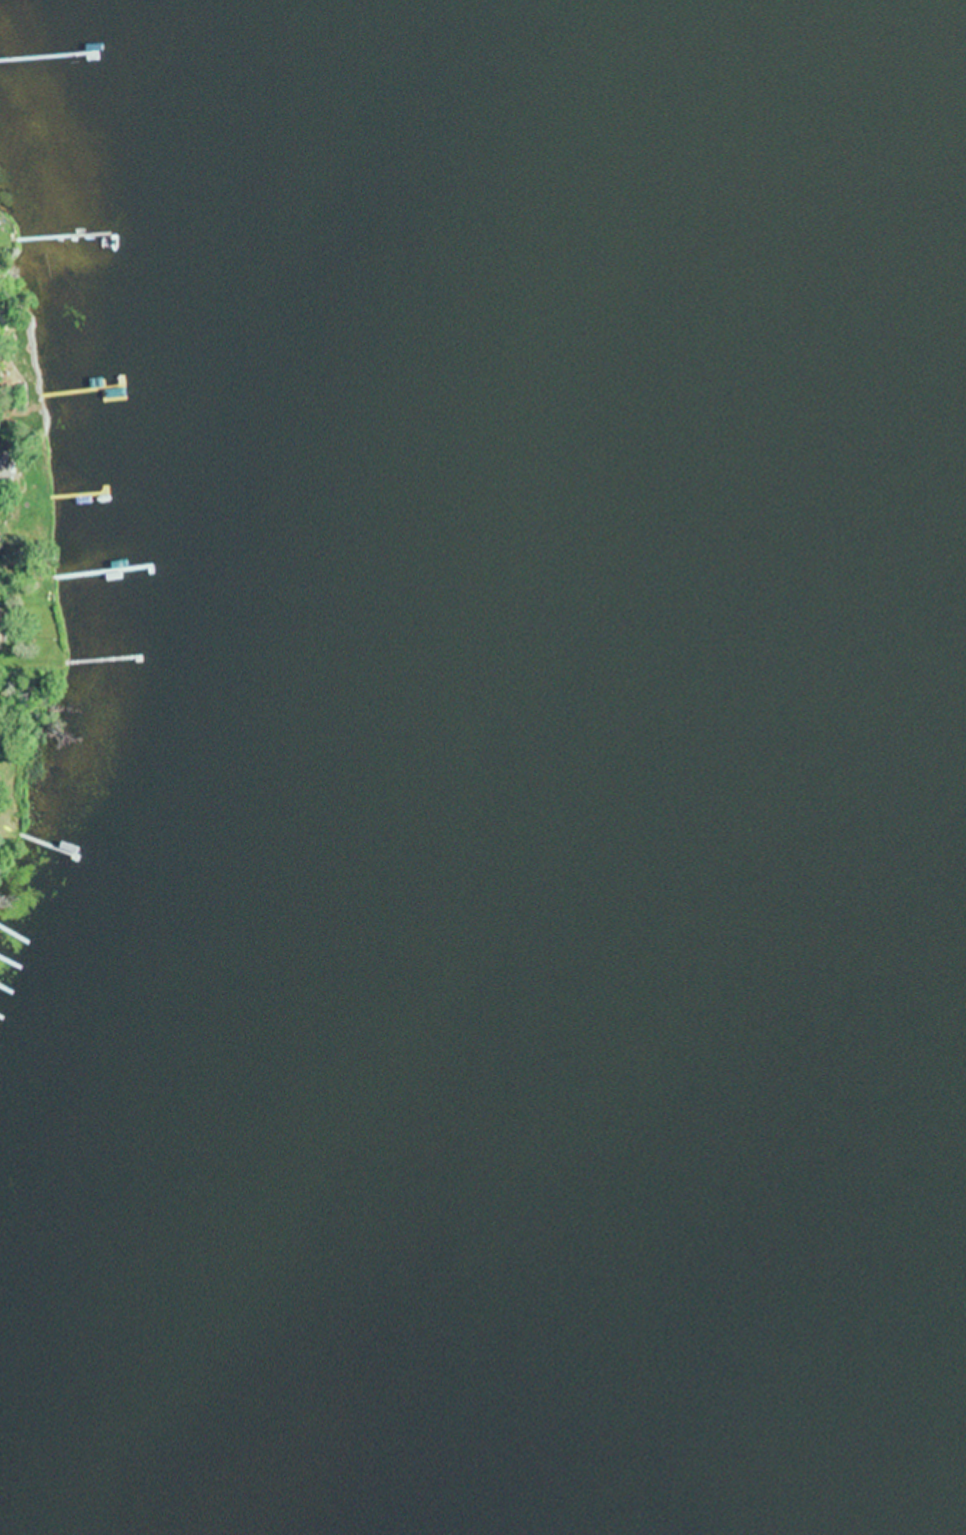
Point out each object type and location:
building: (6, 473)
building: (2, 631)
river: (648, 1251)

